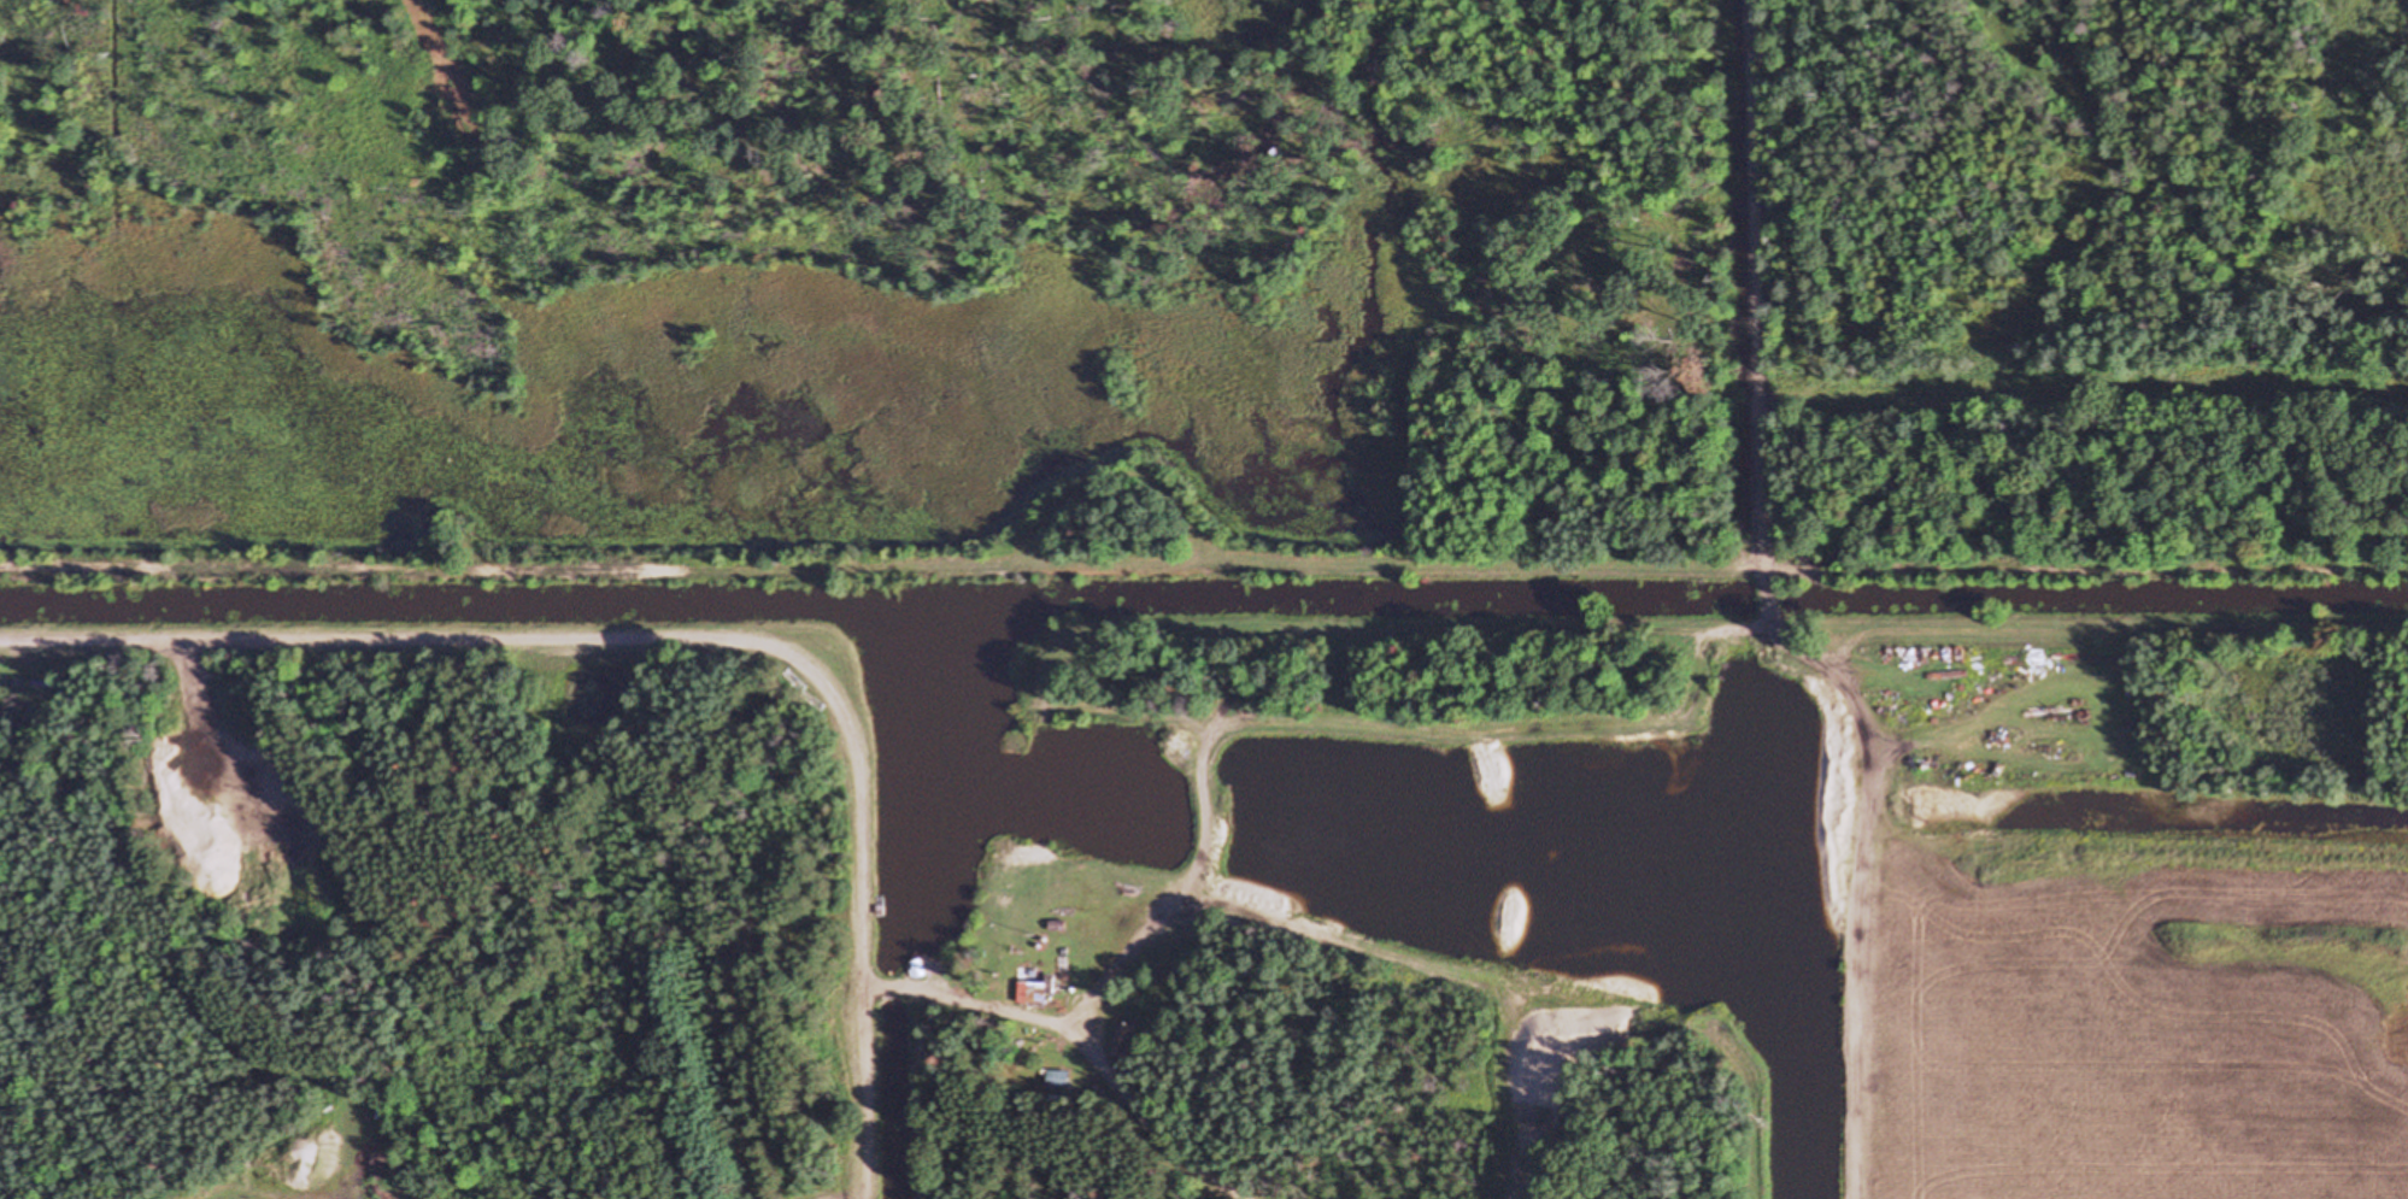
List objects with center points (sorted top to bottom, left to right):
building: (918, 969)
building: (1035, 992)
building: (1061, 1078)

